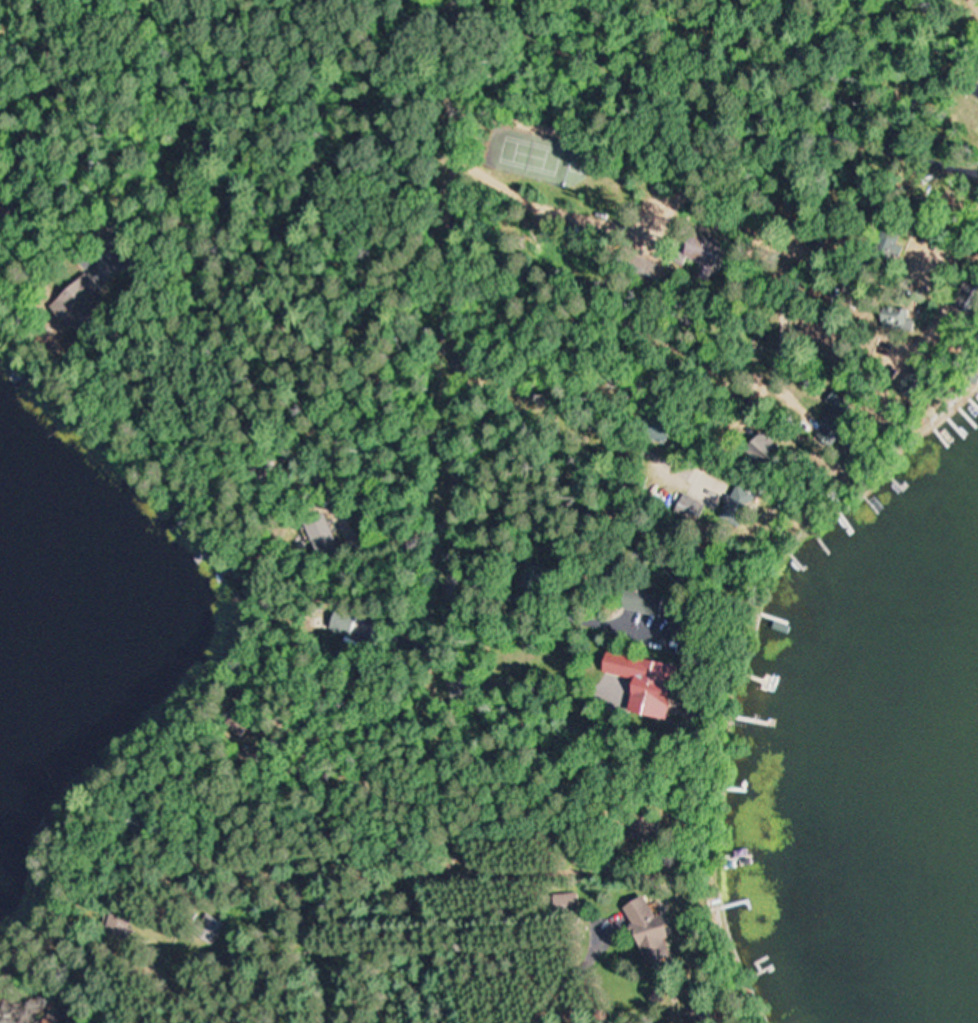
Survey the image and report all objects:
road: (878, 35)
building: (977, 79)
road: (719, 98)
road: (645, 173)
building: (888, 242)
building: (700, 253)
building: (649, 266)
building: (76, 300)
road: (611, 315)
building: (894, 317)
road: (460, 405)
building: (763, 451)
building: (688, 509)
building: (323, 537)
building: (638, 601)
building: (640, 683)
building: (211, 929)
building: (644, 930)
road: (239, 971)

